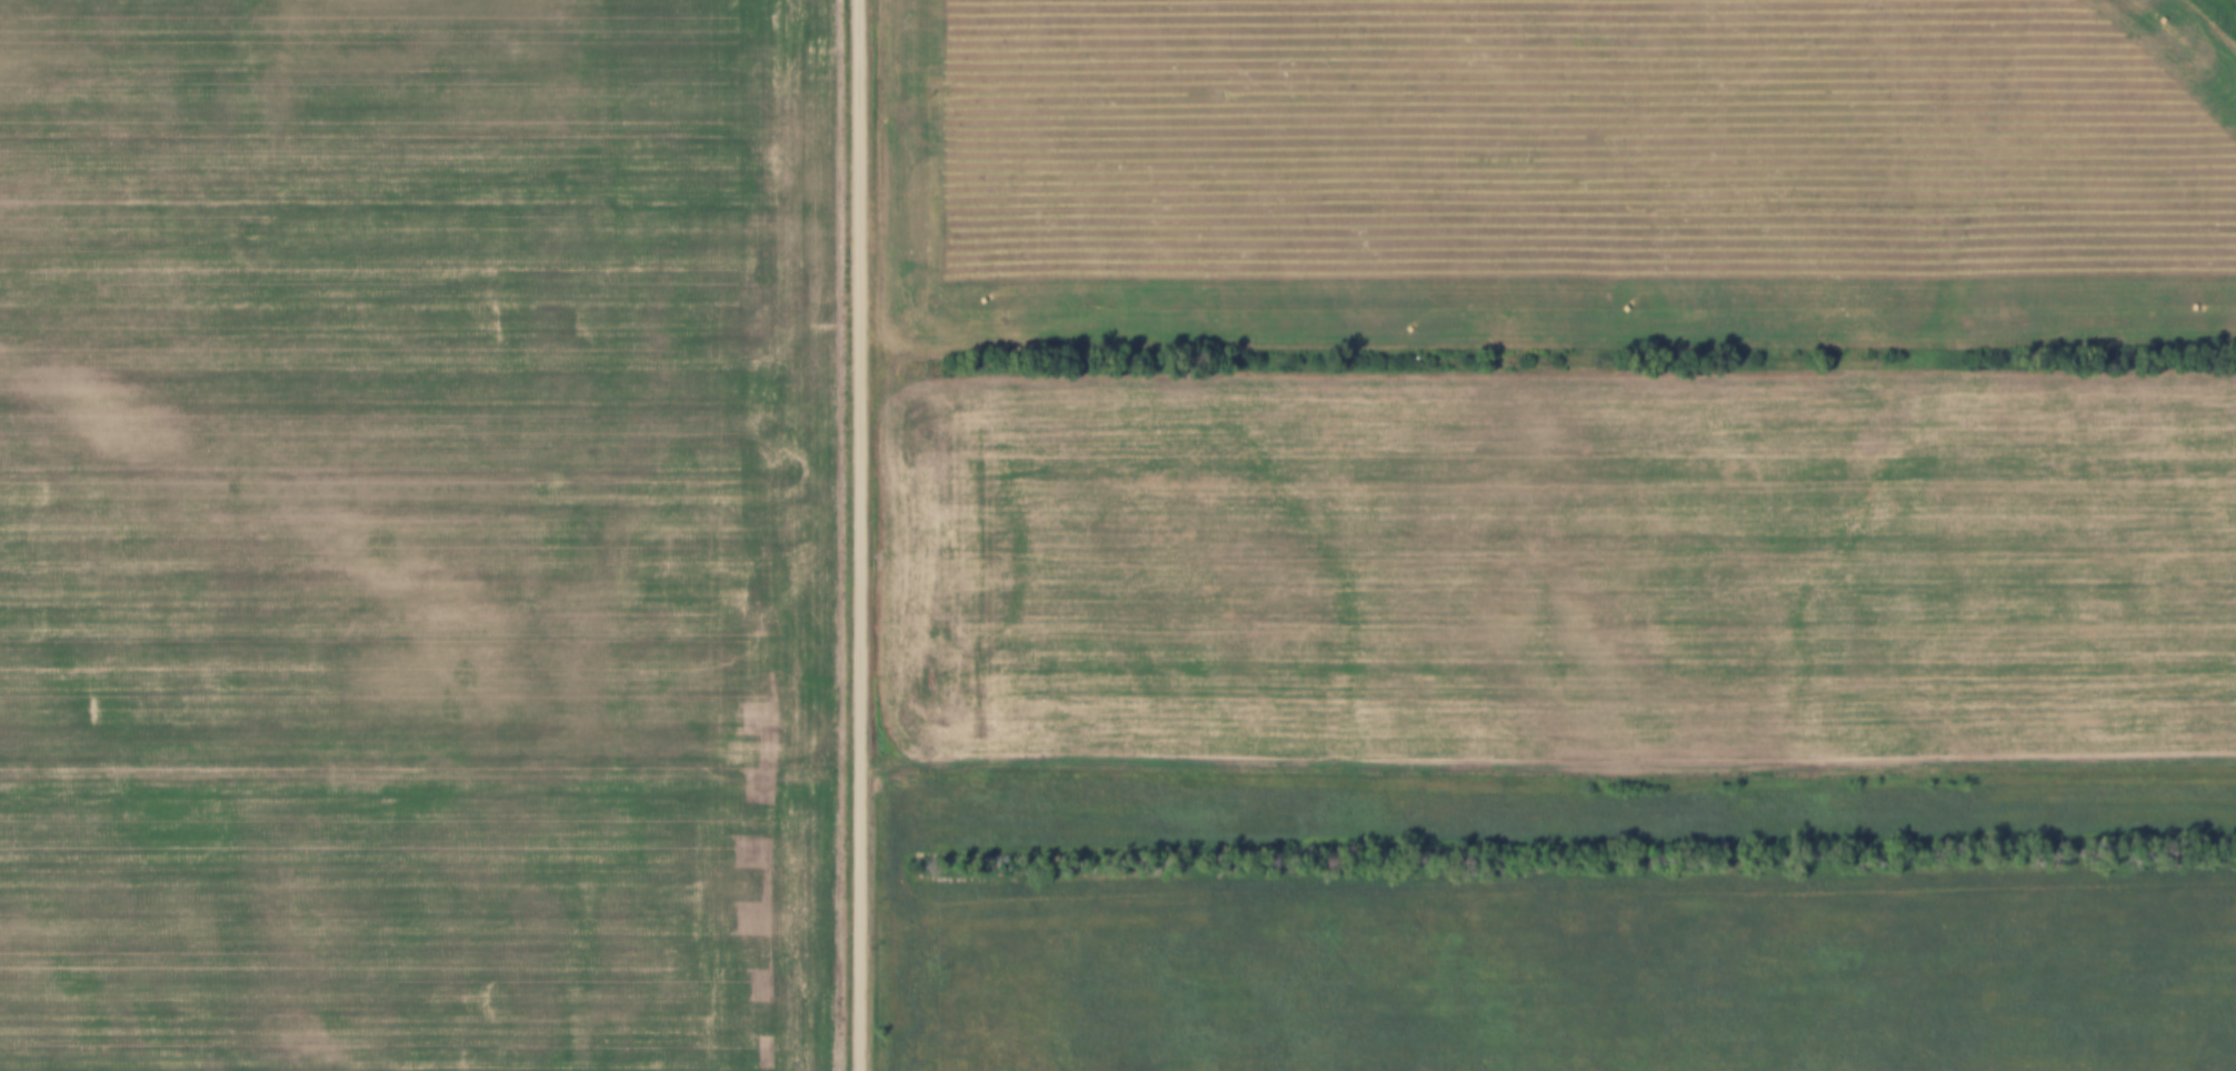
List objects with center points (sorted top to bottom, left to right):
road: (860, 534)
road: (1117, 774)

